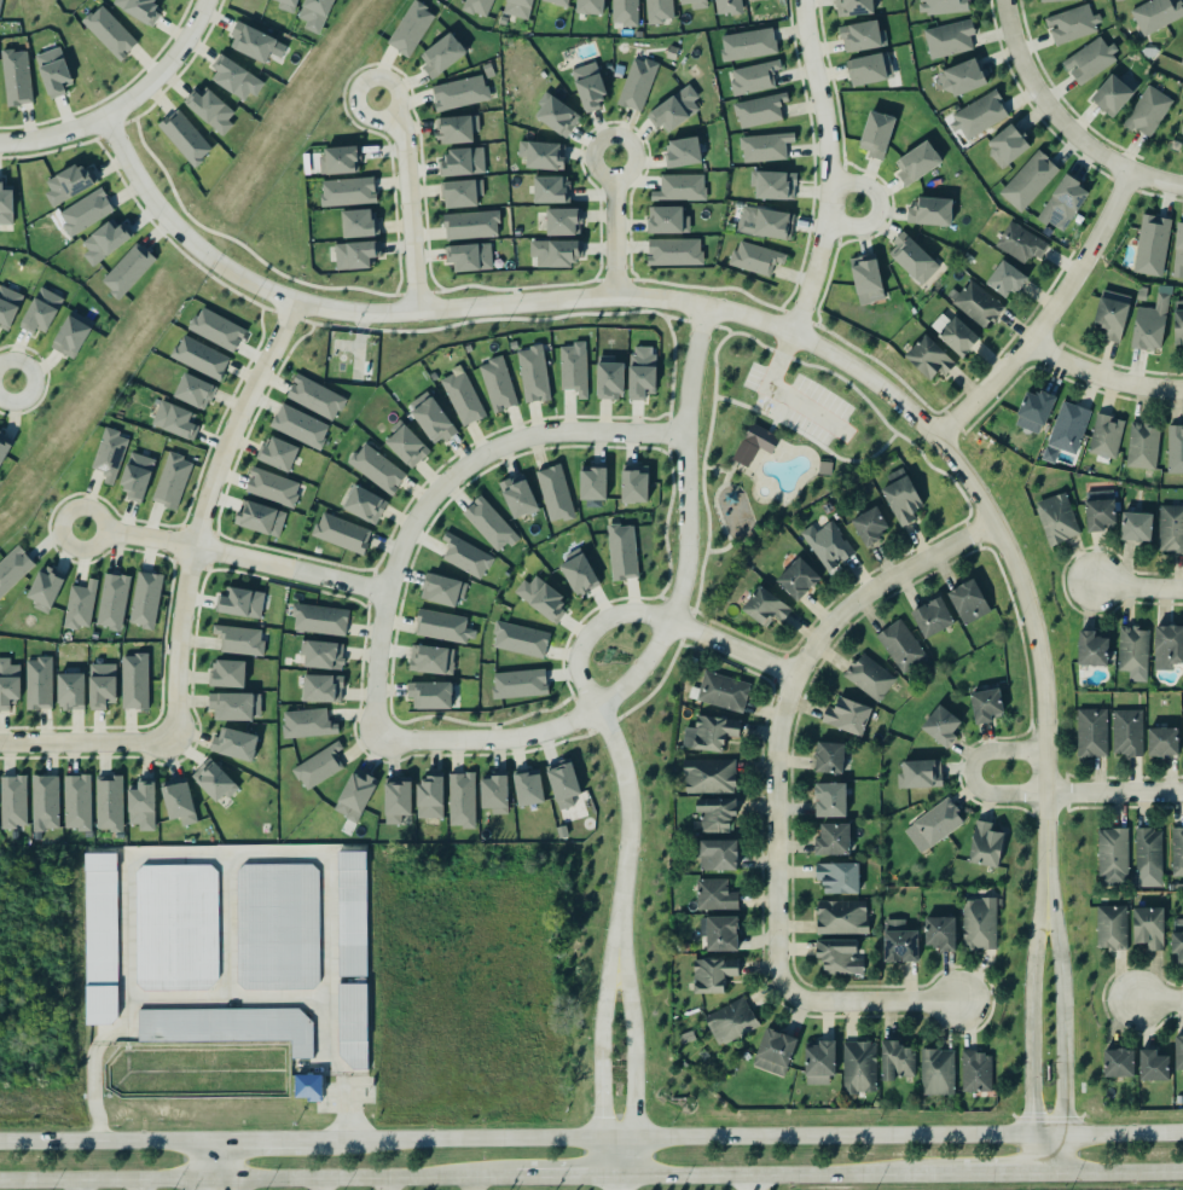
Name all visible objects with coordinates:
building: (750, 0)
building: (1043, 0)
building: (0, 2)
building: (561, 2)
building: (696, 2)
building: (288, 5)
building: (588, 5)
building: (475, 6)
building: (727, 6)
building: (944, 6)
building: (518, 7)
building: (854, 7)
building: (139, 10)
building: (660, 10)
building: (624, 11)
building: (1155, 13)
building: (318, 14)
building: (1072, 24)
building: (411, 27)
building: (110, 31)
building: (862, 36)
building: (950, 39)
building: (255, 42)
building: (748, 43)
building: (440, 53)
building: (1089, 57)
building: (1182, 58)
building: (869, 69)
building: (53, 71)
building: (961, 75)
building: (16, 77)
building: (754, 77)
building: (237, 79)
building: (637, 83)
building: (588, 86)
building: (460, 92)
building: (1112, 92)
road: (124, 101)
building: (675, 109)
building: (759, 110)
building: (213, 111)
building: (1148, 111)
building: (556, 112)
building: (978, 114)
road: (1059, 124)
building: (457, 129)
road: (1181, 129)
building: (876, 134)
building: (185, 138)
park: (1172, 139)
building: (1007, 145)
building: (769, 150)
building: (684, 151)
building: (543, 155)
building: (341, 157)
building: (460, 159)
building: (916, 159)
road: (827, 167)
building: (1027, 179)
building: (772, 181)
building: (68, 186)
building: (680, 186)
building: (551, 188)
building: (348, 191)
building: (462, 193)
road: (411, 199)
building: (1063, 203)
building: (5, 205)
road: (877, 208)
building: (929, 208)
building: (85, 211)
building: (563, 219)
building: (668, 220)
building: (358, 221)
building: (470, 222)
building: (765, 222)
road: (614, 226)
building: (105, 240)
building: (1020, 243)
building: (1150, 243)
building: (674, 250)
building: (1178, 251)
building: (556, 252)
building: (356, 254)
building: (470, 257)
building: (755, 257)
building: (914, 260)
building: (128, 269)
building: (865, 275)
building: (1004, 277)
building: (976, 303)
building: (7, 308)
building: (40, 309)
road: (742, 314)
road: (1048, 318)
building: (1110, 318)
building: (1150, 325)
building: (1178, 325)
road: (721, 326)
building: (215, 327)
building: (70, 335)
building: (957, 335)
road: (752, 337)
road: (779, 353)
building: (201, 356)
road: (778, 358)
building: (929, 359)
road: (713, 361)
building: (574, 368)
building: (533, 372)
building: (642, 372)
road: (7, 377)
building: (609, 378)
road: (1102, 379)
road: (848, 383)
building: (498, 384)
building: (195, 391)
building: (314, 395)
building: (463, 396)
road: (732, 400)
road: (779, 404)
road: (806, 406)
building: (1037, 410)
road: (762, 412)
building: (174, 418)
building: (433, 419)
building: (298, 424)
road: (771, 424)
building: (1068, 426)
road: (707, 430)
building: (1104, 435)
building: (753, 442)
building: (406, 443)
building: (1141, 445)
building: (4, 446)
building: (1176, 448)
building: (279, 453)
building: (110, 454)
road: (834, 454)
park: (785, 455)
road: (714, 466)
building: (376, 468)
road: (729, 468)
road: (939, 470)
building: (135, 475)
road: (724, 476)
building: (174, 481)
building: (592, 484)
building: (633, 484)
building: (273, 487)
road: (436, 489)
building: (555, 493)
building: (518, 497)
building: (903, 500)
building: (364, 503)
road: (704, 507)
road: (717, 510)
road: (202, 512)
building: (1102, 513)
building: (259, 516)
building: (1056, 518)
road: (964, 521)
building: (489, 524)
building: (872, 526)
building: (1136, 527)
building: (1170, 528)
road: (943, 529)
building: (342, 533)
building: (828, 544)
road: (719, 548)
building: (620, 551)
road: (234, 556)
building: (465, 556)
building: (13, 568)
building: (579, 573)
road: (698, 579)
building: (800, 580)
road: (1138, 586)
building: (45, 587)
building: (443, 590)
building: (541, 597)
building: (145, 599)
building: (969, 599)
building: (112, 600)
building: (80, 604)
building: (239, 606)
building: (765, 606)
road: (689, 608)
road: (691, 611)
building: (319, 617)
building: (932, 617)
building: (440, 625)
road: (663, 632)
road: (737, 633)
building: (239, 639)
building: (520, 639)
building: (1171, 642)
building: (900, 644)
road: (730, 648)
building: (1091, 649)
building: (1132, 650)
building: (320, 652)
building: (431, 658)
building: (228, 673)
building: (869, 675)
building: (134, 679)
building: (8, 681)
building: (37, 681)
building: (102, 684)
building: (520, 684)
building: (320, 686)
building: (70, 689)
building: (719, 690)
building: (429, 692)
building: (233, 704)
building: (986, 706)
building: (848, 716)
building: (306, 721)
building: (943, 727)
building: (708, 731)
building: (1091, 731)
building: (1127, 733)
road: (88, 741)
road: (613, 742)
building: (1162, 743)
building: (234, 744)
building: (831, 757)
building: (319, 764)
road: (969, 772)
building: (922, 774)
building: (711, 778)
building: (213, 779)
building: (568, 786)
building: (528, 789)
building: (495, 793)
road: (1113, 793)
road: (773, 794)
building: (353, 795)
building: (429, 796)
building: (460, 799)
building: (829, 800)
building: (13, 801)
building: (45, 801)
building: (77, 802)
building: (109, 802)
building: (179, 802)
building: (143, 805)
building: (398, 807)
building: (713, 813)
building: (934, 823)
building: (834, 841)
building: (985, 844)
building: (1176, 852)
building: (1110, 853)
building: (718, 854)
building: (1147, 855)
building: (839, 877)
building: (713, 894)
building: (350, 912)
building: (841, 917)
building: (277, 924)
building: (978, 924)
building: (176, 927)
building: (1110, 927)
building: (1148, 927)
building: (720, 930)
building: (941, 933)
building: (100, 939)
building: (1177, 939)
building: (900, 946)
building: (837, 956)
building: (712, 974)
road: (219, 995)
road: (1156, 1002)
building: (730, 1018)
building: (350, 1023)
building: (227, 1024)
road: (1031, 1041)
road: (1060, 1041)
building: (773, 1051)
building: (1178, 1051)
building: (820, 1061)
building: (894, 1061)
building: (1117, 1061)
road: (599, 1063)
road: (633, 1063)
building: (858, 1064)
building: (1152, 1064)
building: (976, 1069)
building: (938, 1072)
building: (308, 1086)
road: (747, 1138)
road: (106, 1139)
road: (262, 1139)
road: (204, 1163)
road: (224, 1163)
road: (1113, 1173)
road: (787, 1176)
road: (1001, 1176)
road: (356, 1178)
road: (566, 1178)
road: (99, 1179)
road: (749, 1183)
road: (318, 1184)
road: (387, 1184)
road: (475, 1184)
road: (617, 1184)
road: (75, 1185)

